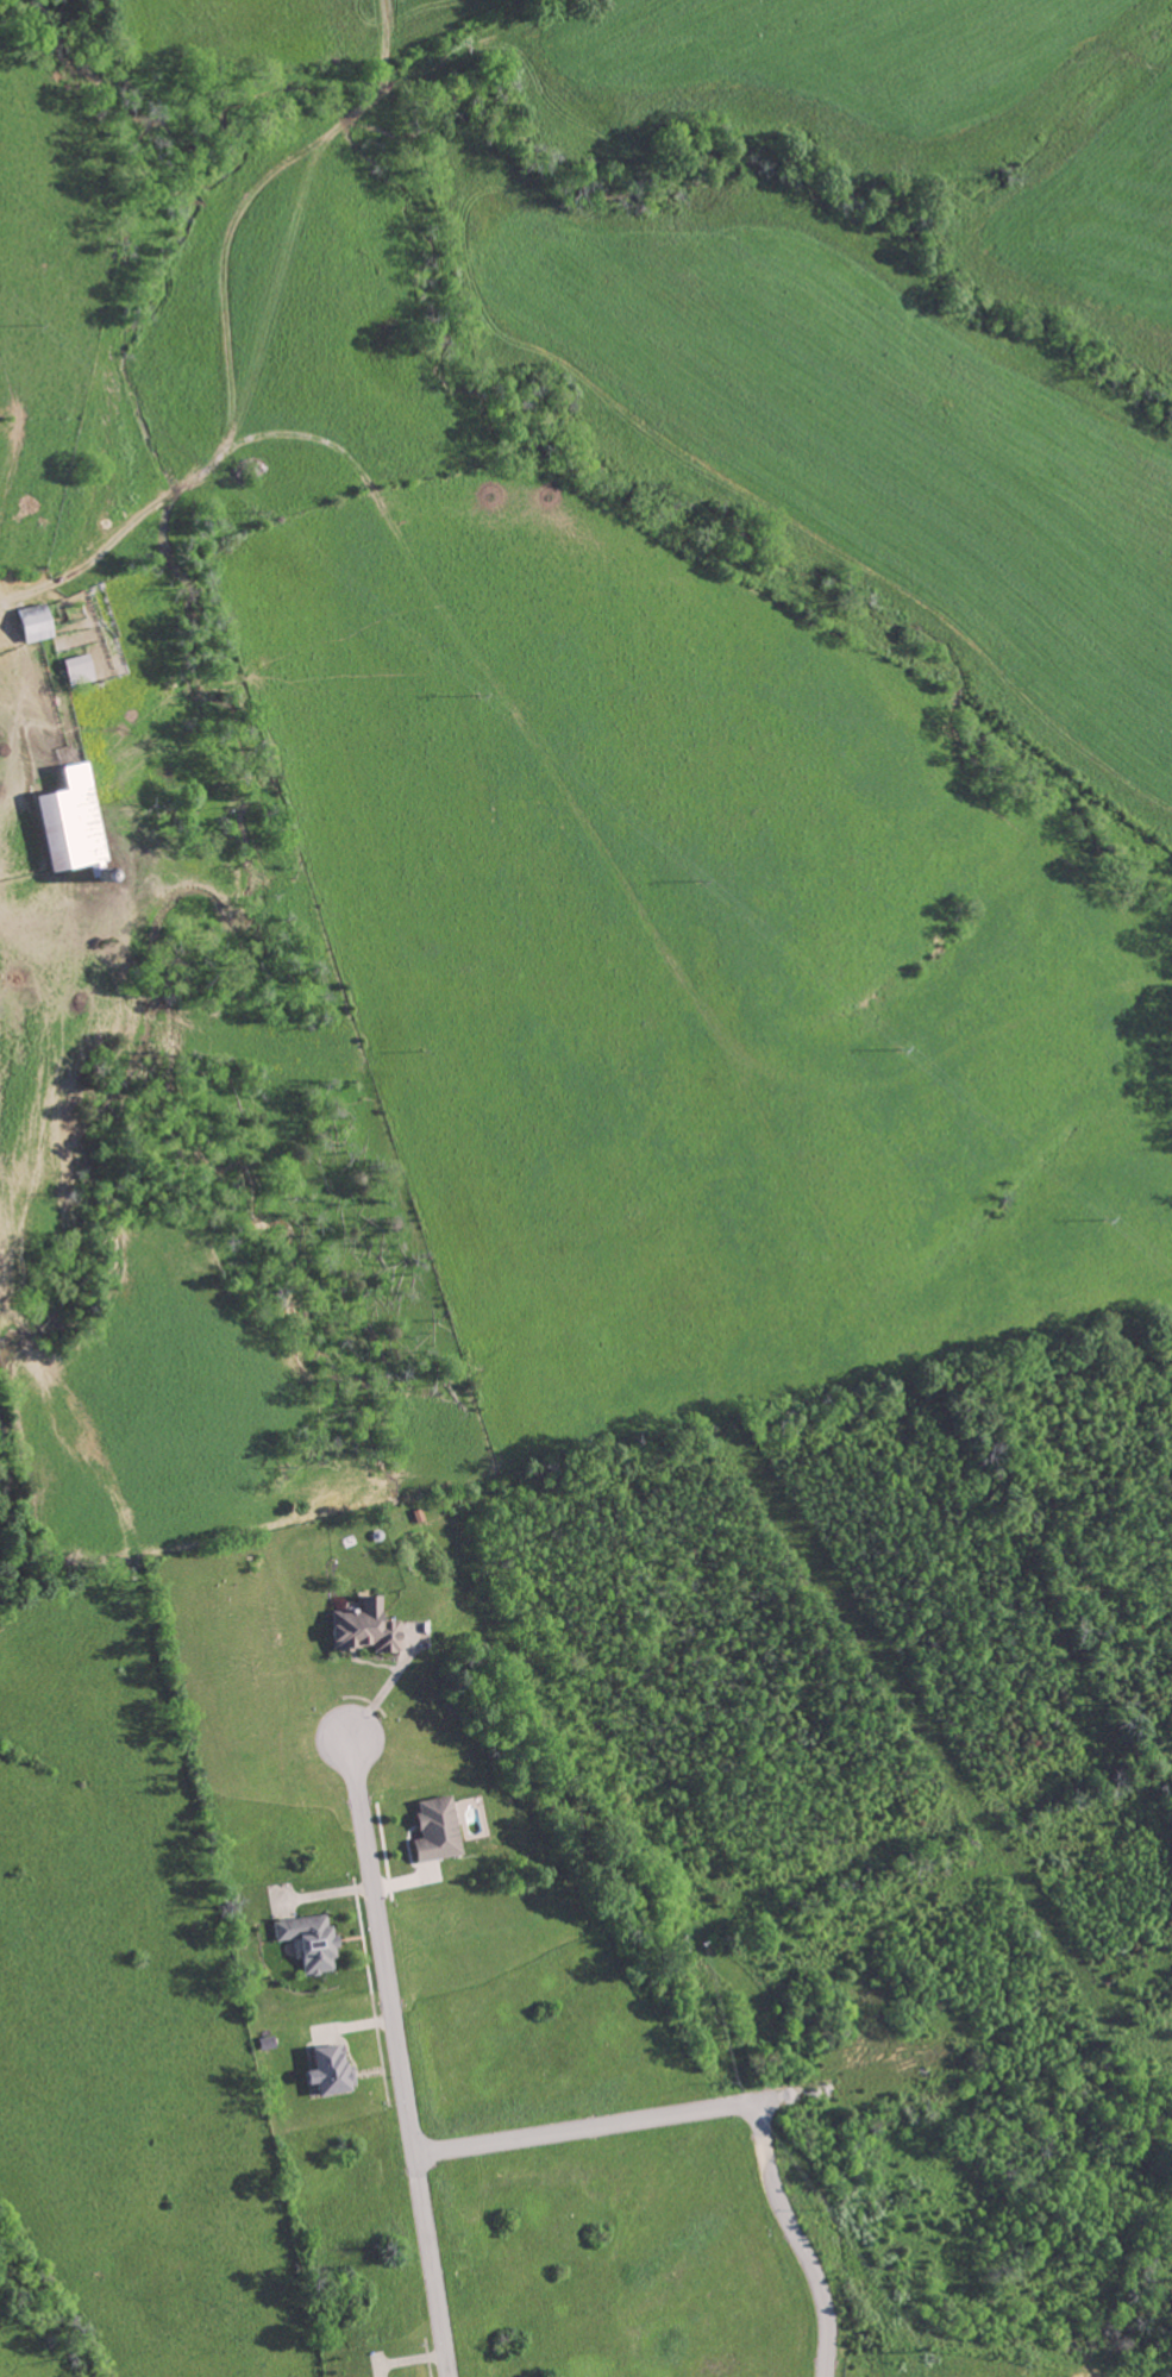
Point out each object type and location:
building: (62, 819)
building: (357, 1627)
building: (430, 1829)
building: (305, 1940)
road: (402, 2057)
building: (337, 2066)
road: (732, 2105)

